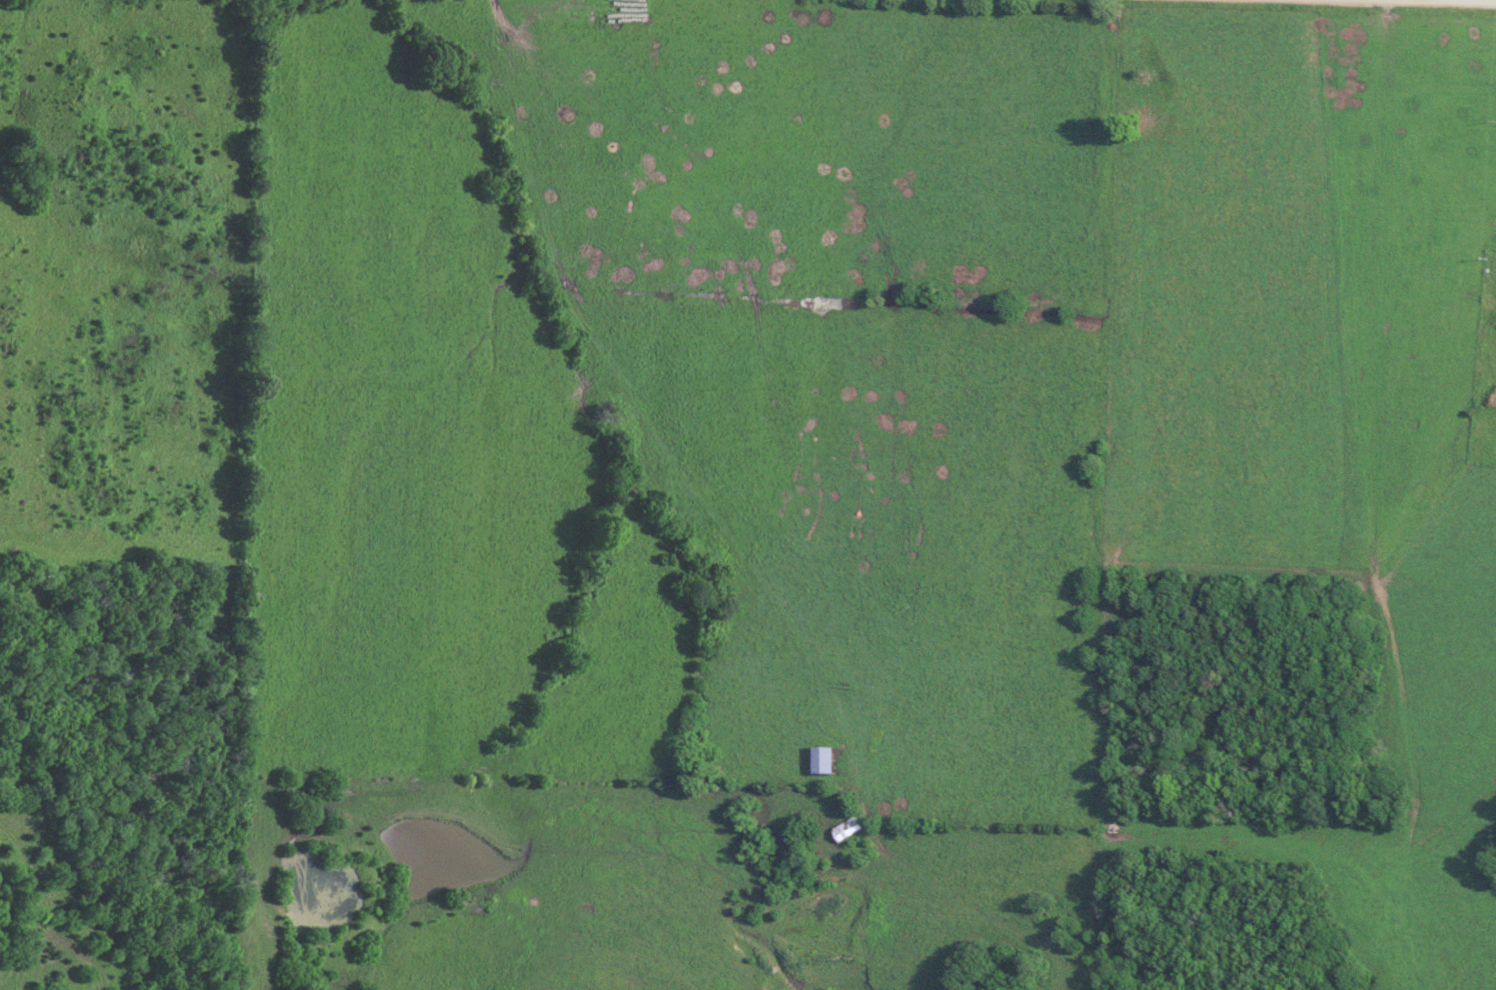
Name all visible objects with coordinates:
road: (1475, 0)
building: (818, 759)
building: (843, 827)

